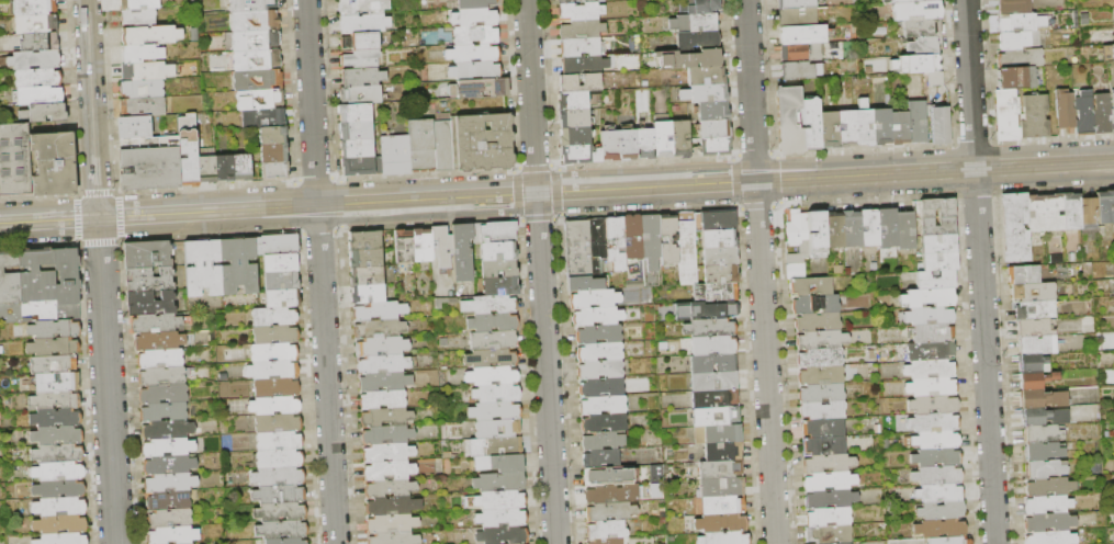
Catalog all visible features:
building: (565, 1)
building: (593, 1)
building: (904, 1)
building: (138, 3)
building: (473, 3)
building: (796, 3)
building: (250, 4)
building: (361, 5)
building: (32, 7)
building: (698, 7)
building: (1012, 7)
building: (579, 11)
building: (915, 11)
building: (137, 16)
building: (473, 16)
building: (797, 16)
building: (254, 20)
building: (363, 22)
building: (1020, 22)
building: (34, 23)
building: (694, 23)
building: (921, 29)
building: (581, 30)
building: (149, 34)
building: (474, 34)
building: (802, 34)
building: (255, 39)
building: (359, 39)
building: (1012, 39)
building: (697, 41)
building: (37, 42)
building: (923, 46)
building: (582, 47)
building: (1112, 52)
building: (140, 53)
building: (472, 53)
building: (801, 53)
building: (360, 57)
building: (1020, 58)
building: (32, 59)
building: (256, 59)
building: (688, 59)
building: (914, 64)
building: (585, 65)
building: (146, 70)
building: (473, 70)
building: (800, 70)
building: (362, 76)
building: (36, 77)
building: (705, 77)
building: (1010, 78)
building: (256, 79)
building: (935, 79)
building: (567, 80)
road: (970, 83)
building: (142, 88)
building: (479, 88)
road: (750, 90)
building: (371, 93)
building: (37, 94)
building: (704, 94)
road: (530, 97)
building: (258, 99)
building: (572, 101)
road: (312, 102)
building: (142, 106)
road: (92, 109)
building: (1064, 110)
building: (42, 112)
building: (353, 112)
building: (712, 112)
building: (1112, 112)
building: (1082, 113)
building: (1006, 114)
building: (1100, 114)
building: (262, 117)
building: (1033, 117)
building: (573, 120)
building: (788, 121)
building: (916, 122)
building: (937, 123)
building: (810, 124)
building: (863, 124)
building: (46, 126)
building: (133, 126)
building: (880, 126)
building: (355, 128)
building: (713, 128)
building: (845, 128)
building: (899, 128)
building: (828, 129)
building: (272, 135)
road: (1054, 136)
railway: (95, 137)
building: (574, 137)
building: (679, 139)
building: (481, 140)
building: (662, 140)
building: (442, 141)
road: (974, 141)
building: (644, 144)
building: (420, 145)
building: (627, 145)
building: (609, 146)
building: (356, 147)
building: (711, 147)
road: (866, 147)
building: (187, 149)
building: (273, 152)
road: (756, 152)
building: (394, 154)
building: (575, 155)
building: (596, 156)
building: (14, 159)
park: (14, 159)
road: (648, 159)
building: (52, 163)
building: (361, 165)
road: (538, 165)
road: (1044, 165)
building: (149, 167)
building: (241, 167)
road: (994, 167)
building: (206, 168)
building: (224, 168)
road: (656, 169)
road: (955, 169)
building: (274, 170)
railway: (705, 171)
road: (429, 172)
road: (720, 172)
road: (865, 174)
road: (1079, 175)
railway: (563, 178)
road: (319, 179)
road: (780, 179)
road: (562, 181)
road: (736, 181)
road: (206, 185)
road: (645, 186)
railway: (556, 188)
road: (562, 191)
road: (1055, 191)
road: (97, 192)
road: (37, 194)
road: (517, 194)
railway: (556, 195)
road: (977, 195)
road: (426, 199)
road: (869, 201)
railway: (485, 203)
road: (344, 204)
railway: (474, 204)
road: (502, 205)
railway: (82, 206)
road: (297, 206)
road: (758, 206)
building: (938, 207)
building: (1105, 207)
road: (206, 212)
building: (1071, 212)
road: (651, 213)
building: (1054, 213)
road: (345, 214)
building: (1036, 214)
building: (1089, 214)
road: (120, 216)
road: (419, 216)
road: (77, 218)
road: (5, 219)
road: (541, 219)
building: (719, 219)
road: (54, 220)
road: (5, 223)
road: (4, 225)
road: (431, 226)
building: (938, 227)
building: (869, 228)
building: (888, 228)
building: (1015, 228)
road: (538, 229)
building: (797, 229)
building: (852, 229)
building: (905, 229)
road: (322, 230)
building: (834, 230)
building: (494, 233)
building: (817, 233)
road: (210, 237)
building: (633, 237)
building: (599, 238)
building: (668, 239)
building: (719, 239)
building: (365, 240)
road: (99, 242)
building: (616, 242)
building: (939, 243)
building: (277, 245)
road: (38, 246)
building: (423, 246)
building: (441, 246)
building: (404, 247)
building: (687, 247)
building: (578, 248)
building: (651, 249)
building: (498, 251)
building: (462, 252)
building: (178, 254)
building: (147, 256)
building: (720, 257)
building: (367, 259)
building: (938, 262)
building: (280, 263)
building: (796, 265)
building: (237, 267)
building: (202, 269)
building: (499, 269)
building: (720, 274)
building: (1024, 275)
building: (368, 276)
building: (933, 279)
building: (149, 280)
building: (281, 281)
building: (585, 284)
building: (34, 285)
building: (1112, 285)
building: (499, 286)
building: (812, 286)
building: (8, 287)
building: (716, 292)
building: (1034, 292)
building: (369, 294)
building: (929, 297)
building: (282, 298)
building: (595, 299)
building: (150, 303)
building: (490, 305)
building: (815, 305)
building: (705, 310)
building: (1035, 310)
building: (380, 311)
building: (931, 316)
building: (274, 317)
building: (598, 317)
building: (818, 322)
building: (155, 324)
building: (493, 324)
building: (1036, 328)
building: (55, 329)
building: (379, 329)
building: (710, 329)
building: (934, 333)
building: (598, 335)
building: (275, 336)
building: (493, 340)
building: (822, 340)
building: (159, 342)
building: (714, 345)
building: (1035, 345)
building: (382, 347)
building: (54, 348)
building: (931, 351)
building: (599, 352)
building: (275, 353)
road: (984, 355)
building: (821, 358)
building: (160, 359)
building: (492, 359)
road: (765, 362)
building: (714, 363)
building: (1029, 363)
building: (54, 364)
building: (384, 364)
building: (930, 370)
building: (272, 371)
building: (600, 371)
road: (326, 374)
building: (822, 375)
building: (161, 376)
building: (493, 377)
building: (1035, 379)
road: (106, 381)
building: (57, 382)
building: (714, 382)
building: (385, 383)
building: (932, 387)
building: (277, 388)
building: (601, 388)
building: (822, 394)
building: (162, 395)
building: (497, 395)
building: (716, 399)
building: (1043, 399)
building: (55, 400)
building: (383, 400)
road: (548, 405)
building: (934, 405)
building: (274, 406)
building: (603, 406)
building: (495, 411)
building: (823, 411)
building: (164, 412)
building: (716, 417)
building: (1044, 417)
building: (56, 418)
building: (386, 418)
building: (934, 422)
building: (279, 423)
building: (604, 423)
building: (824, 428)
building: (498, 429)
building: (167, 430)
building: (719, 434)
building: (1043, 434)
building: (387, 435)
building: (57, 437)
building: (936, 440)
building: (603, 441)
building: (279, 442)
building: (825, 445)
building: (496, 446)
building: (168, 447)
building: (723, 452)
building: (1044, 452)
building: (389, 453)
building: (58, 454)
building: (936, 457)
building: (280, 460)
building: (601, 460)
building: (507, 463)
building: (829, 464)
building: (169, 466)
building: (720, 469)
building: (1044, 469)
building: (389, 471)
building: (59, 472)
building: (937, 475)
building: (608, 476)
building: (279, 477)
building: (830, 481)
building: (499, 483)
building: (170, 484)
building: (1049, 487)
building: (721, 488)
building: (59, 489)
building: (390, 489)
building: (939, 494)
building: (280, 495)
building: (612, 495)
building: (831, 499)
building: (170, 500)
building: (500, 500)
building: (1048, 505)
building: (723, 506)
building: (60, 507)
building: (393, 507)
building: (942, 511)
building: (281, 512)
building: (611, 512)
building: (502, 518)
building: (830, 518)
building: (170, 519)
building: (721, 523)
building: (1049, 523)
building: (60, 524)
building: (392, 524)
building: (941, 529)
building: (282, 531)
building: (606, 531)
building: (829, 534)
building: (173, 535)
building: (503, 535)
building: (63, 539)
building: (395, 539)
building: (724, 539)
building: (1051, 539)
building: (950, 541)
building: (286, 542)
building: (608, 542)
building: (844, 543)

